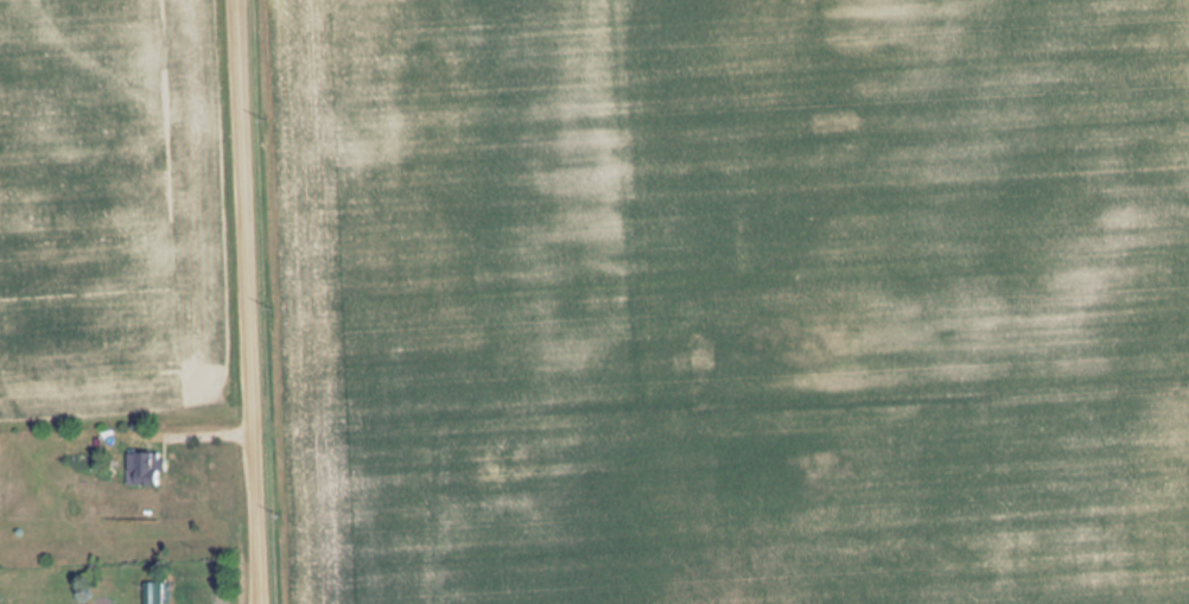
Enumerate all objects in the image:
road: (243, 301)
building: (147, 468)
building: (155, 592)

